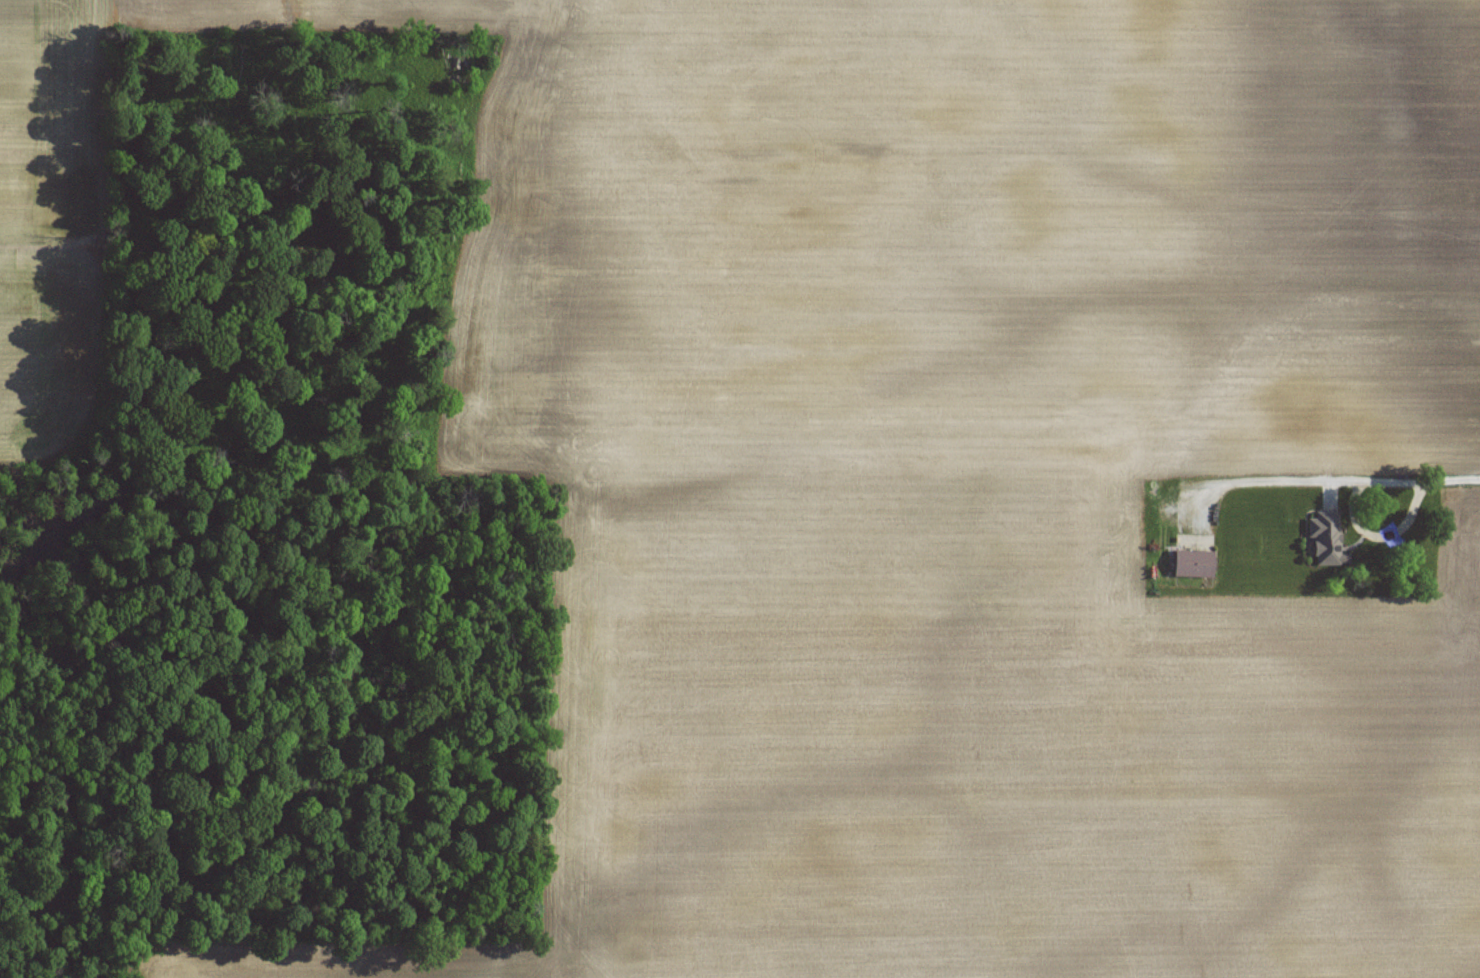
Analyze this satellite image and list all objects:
road: (1402, 480)
building: (1327, 537)
building: (1194, 563)

